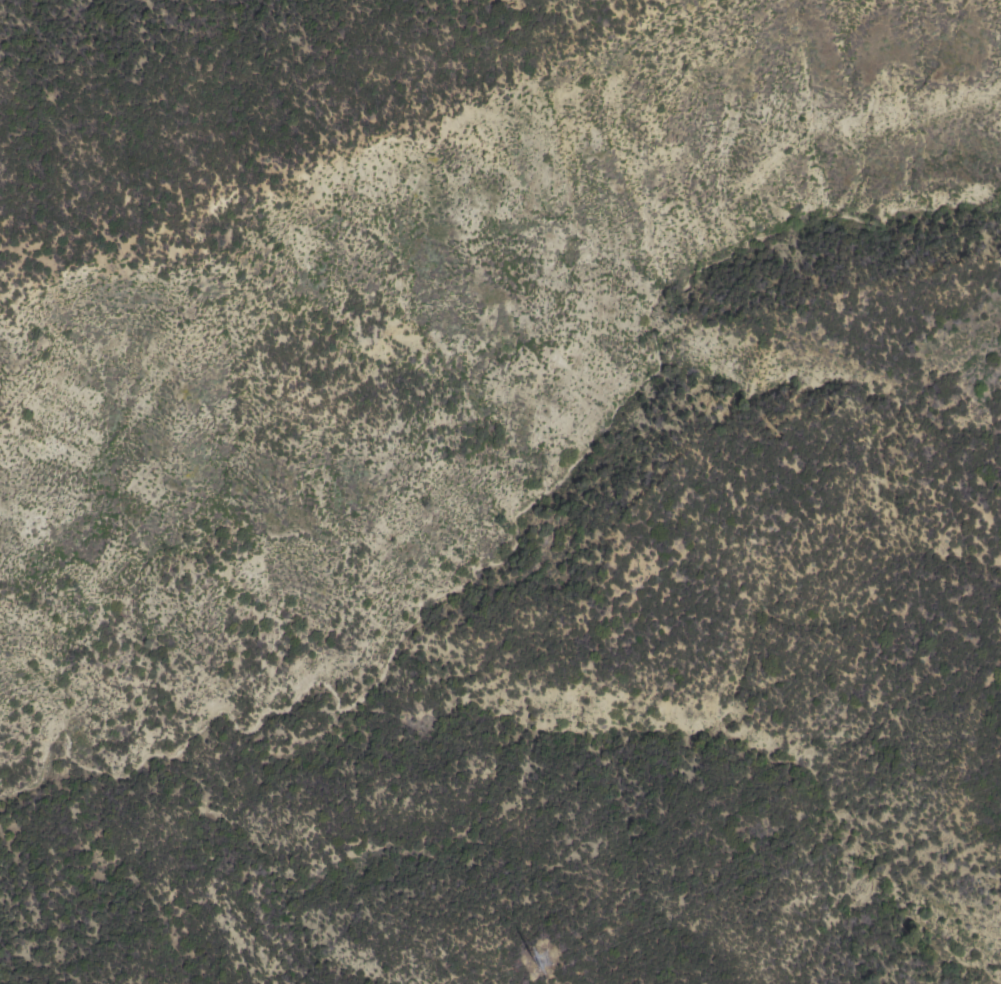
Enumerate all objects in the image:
power tower: (561, 939)

